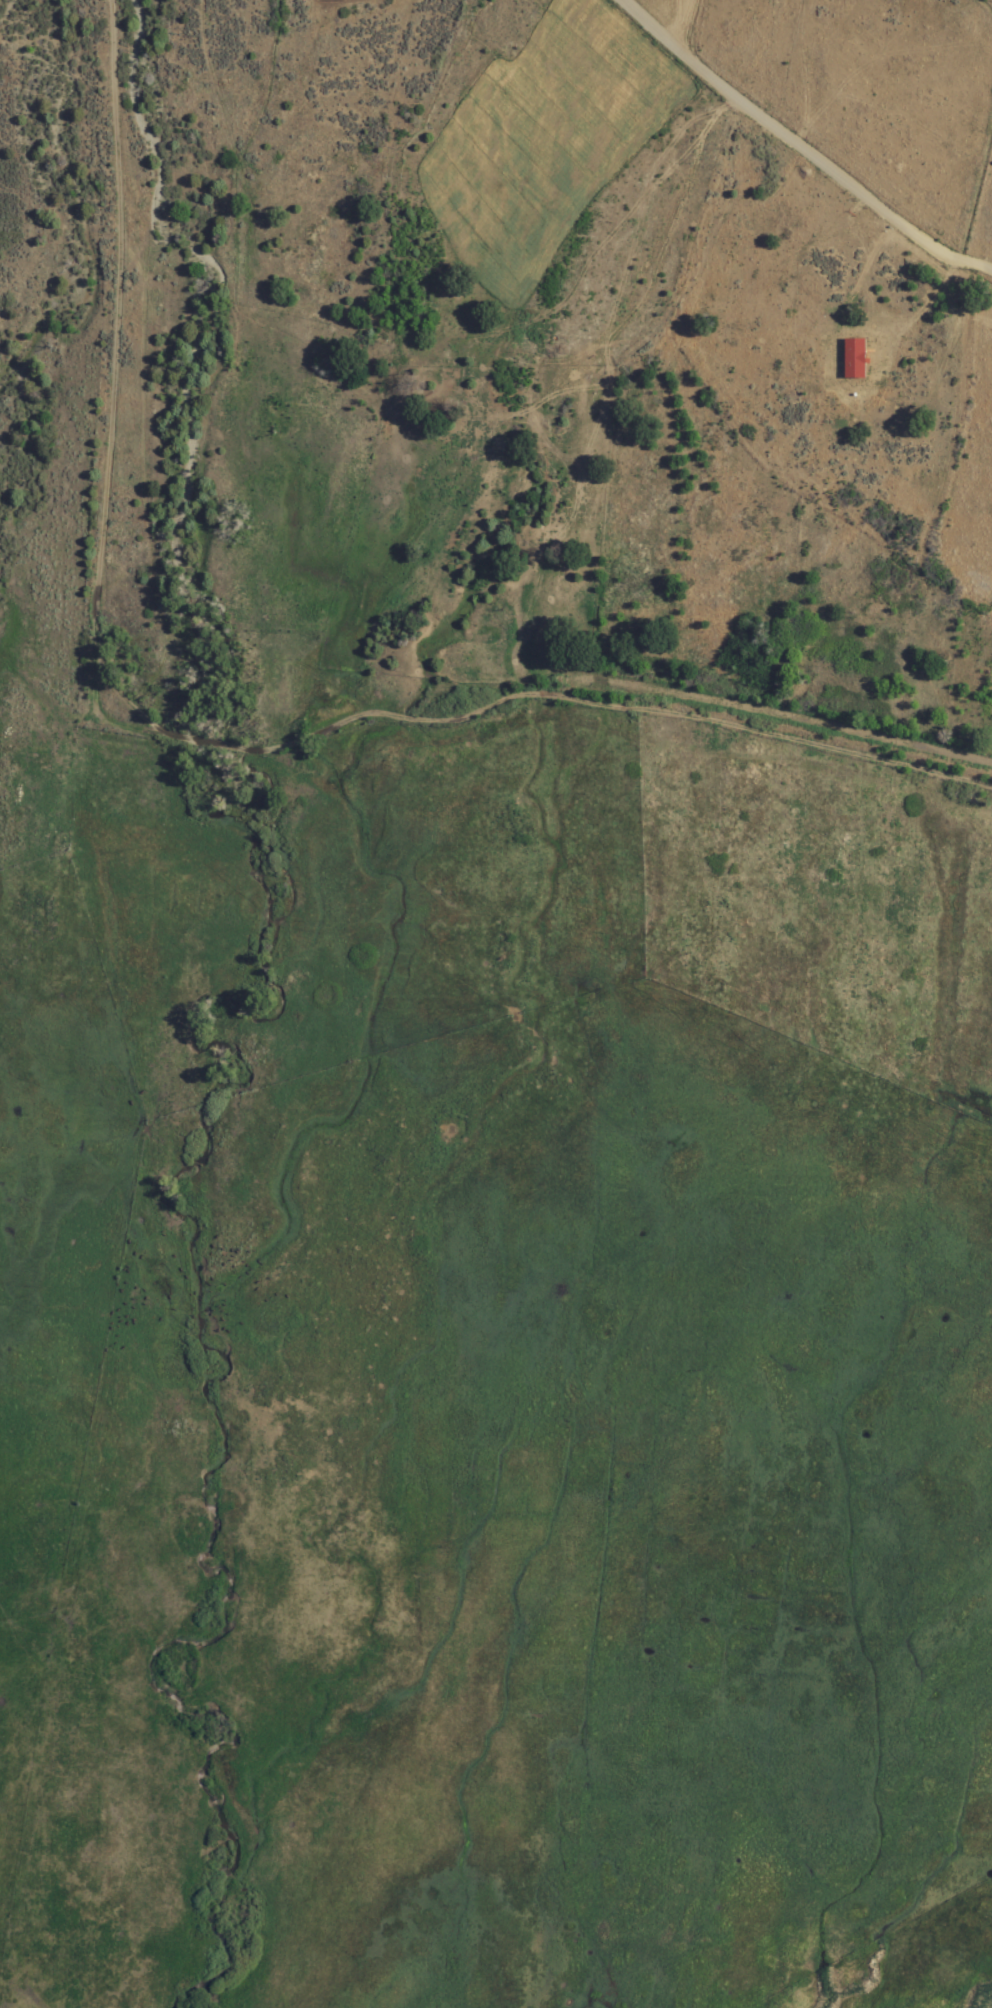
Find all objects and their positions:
road: (800, 148)
building: (852, 355)
road: (209, 740)

